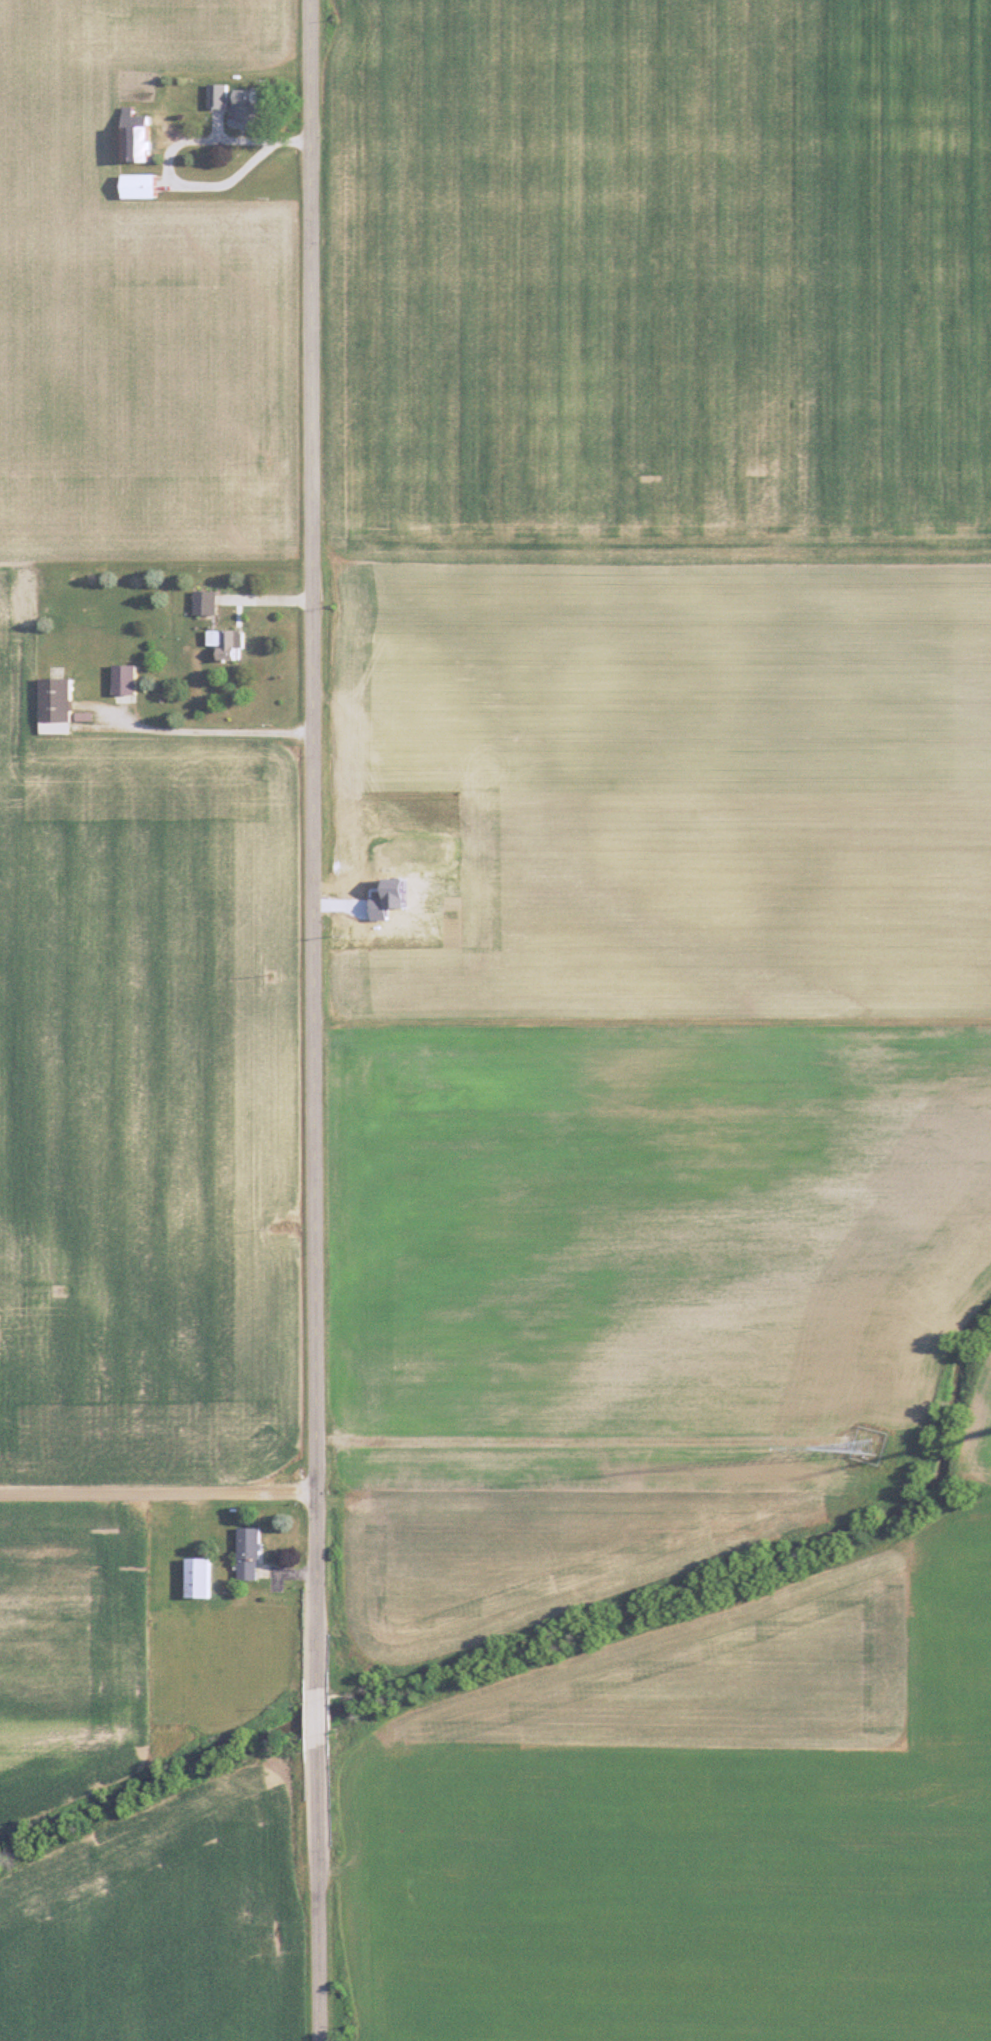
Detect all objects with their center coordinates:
building: (241, 101)
building: (141, 135)
road: (157, 139)
building: (147, 185)
building: (210, 602)
building: (232, 643)
building: (129, 678)
building: (61, 705)
road: (212, 729)
road: (315, 827)
road: (559, 1436)
road: (159, 1492)
building: (254, 1554)
building: (205, 1578)
river: (548, 1631)
road: (318, 1709)
road: (319, 1902)

